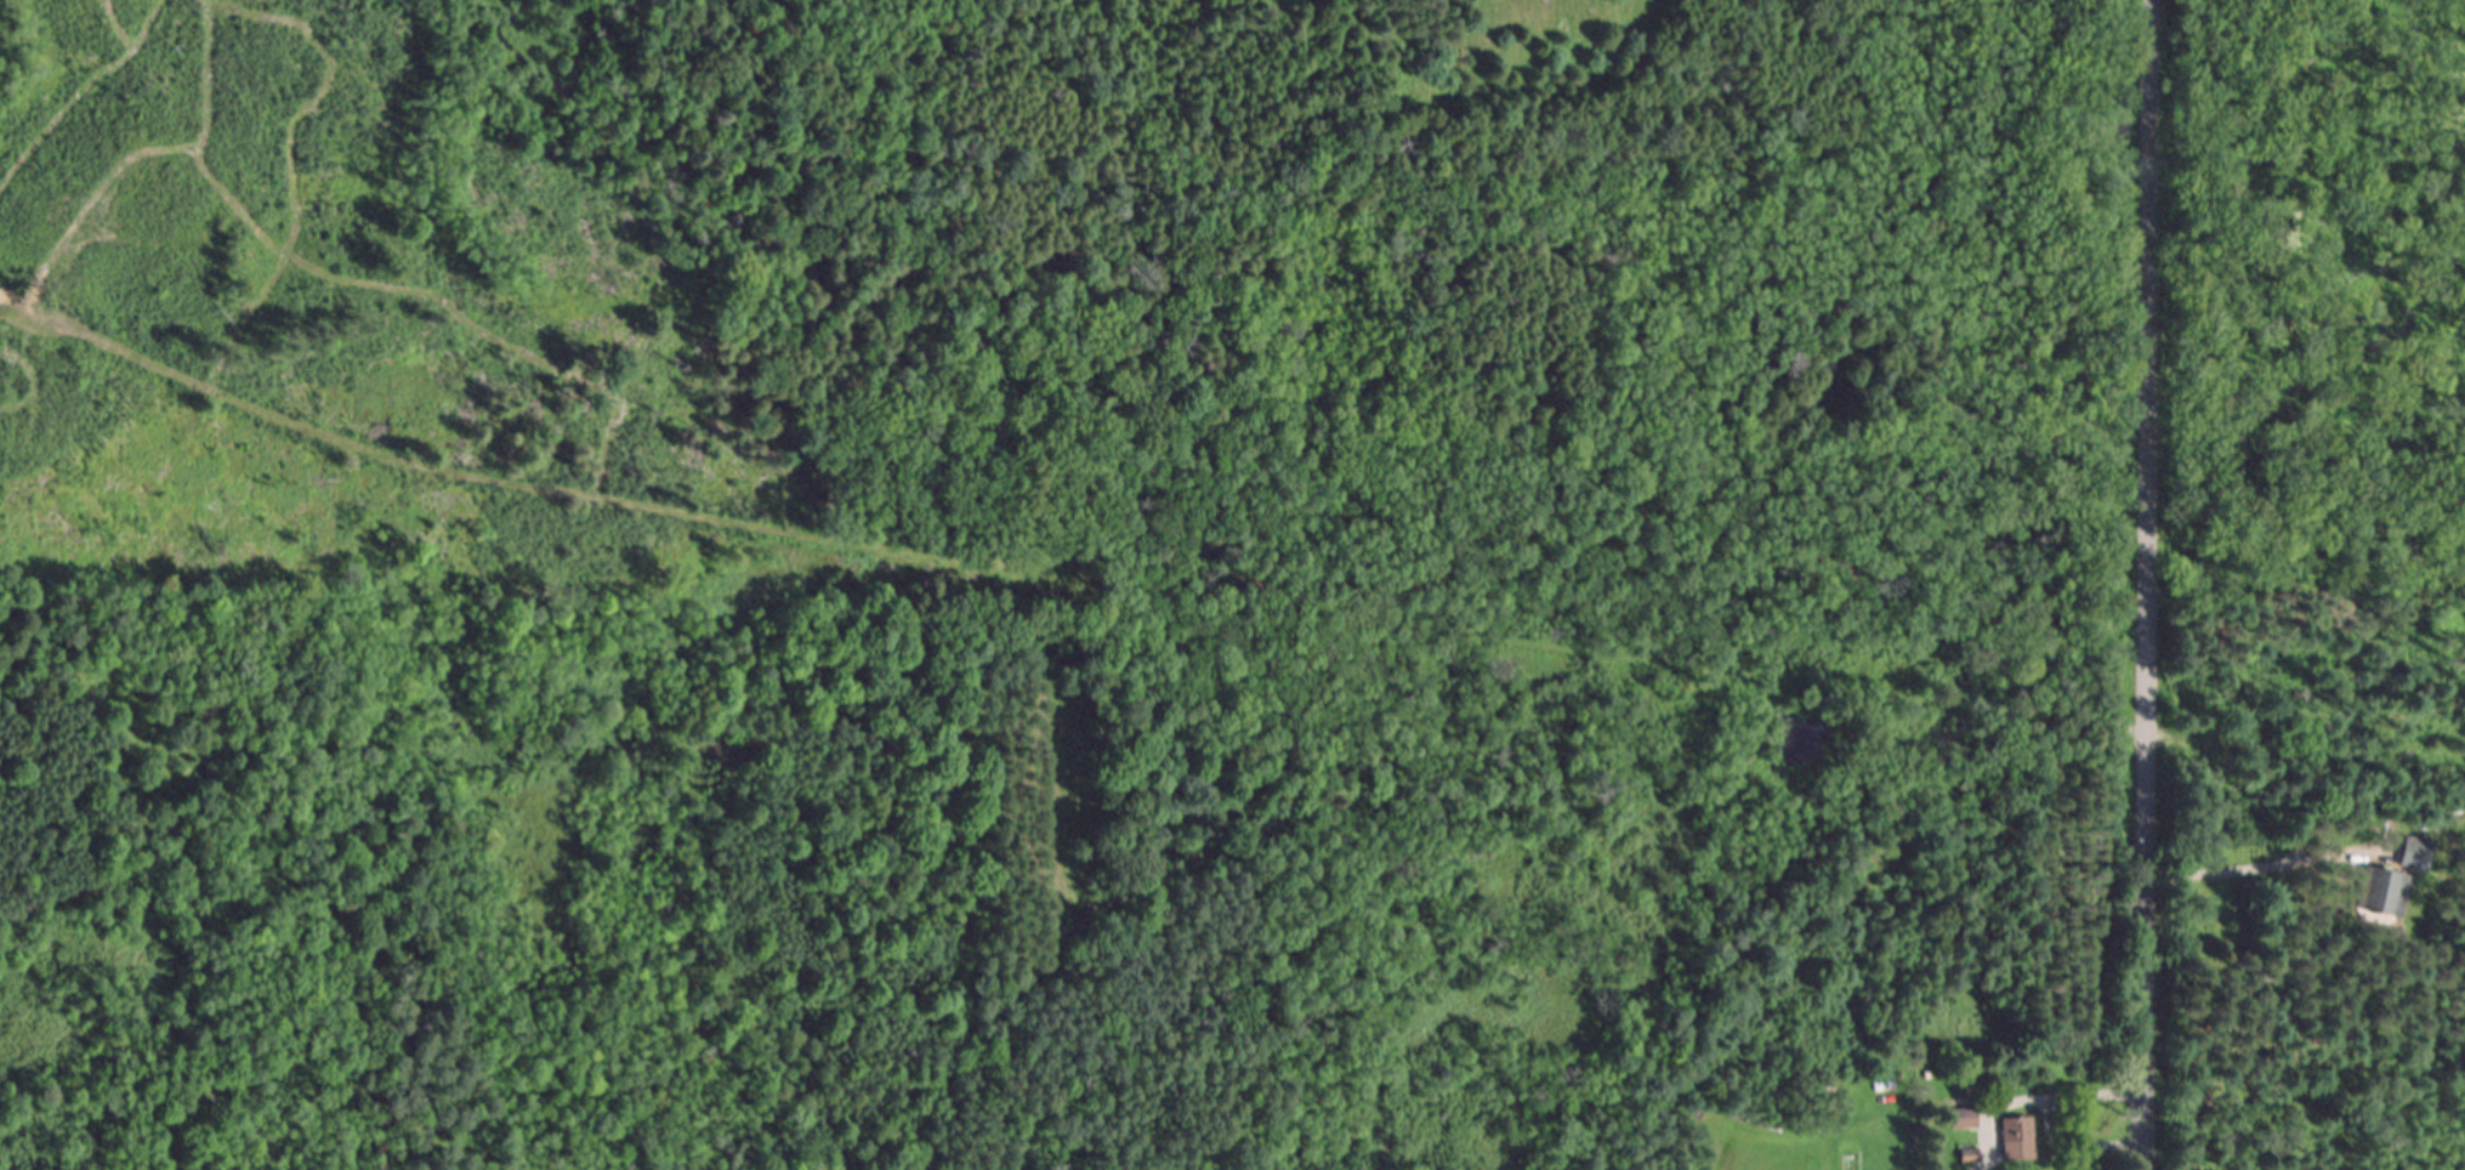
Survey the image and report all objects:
road: (2152, 585)
road: (2245, 869)
building: (2381, 893)
road: (2083, 1098)
building: (1956, 1119)
building: (2014, 1140)

